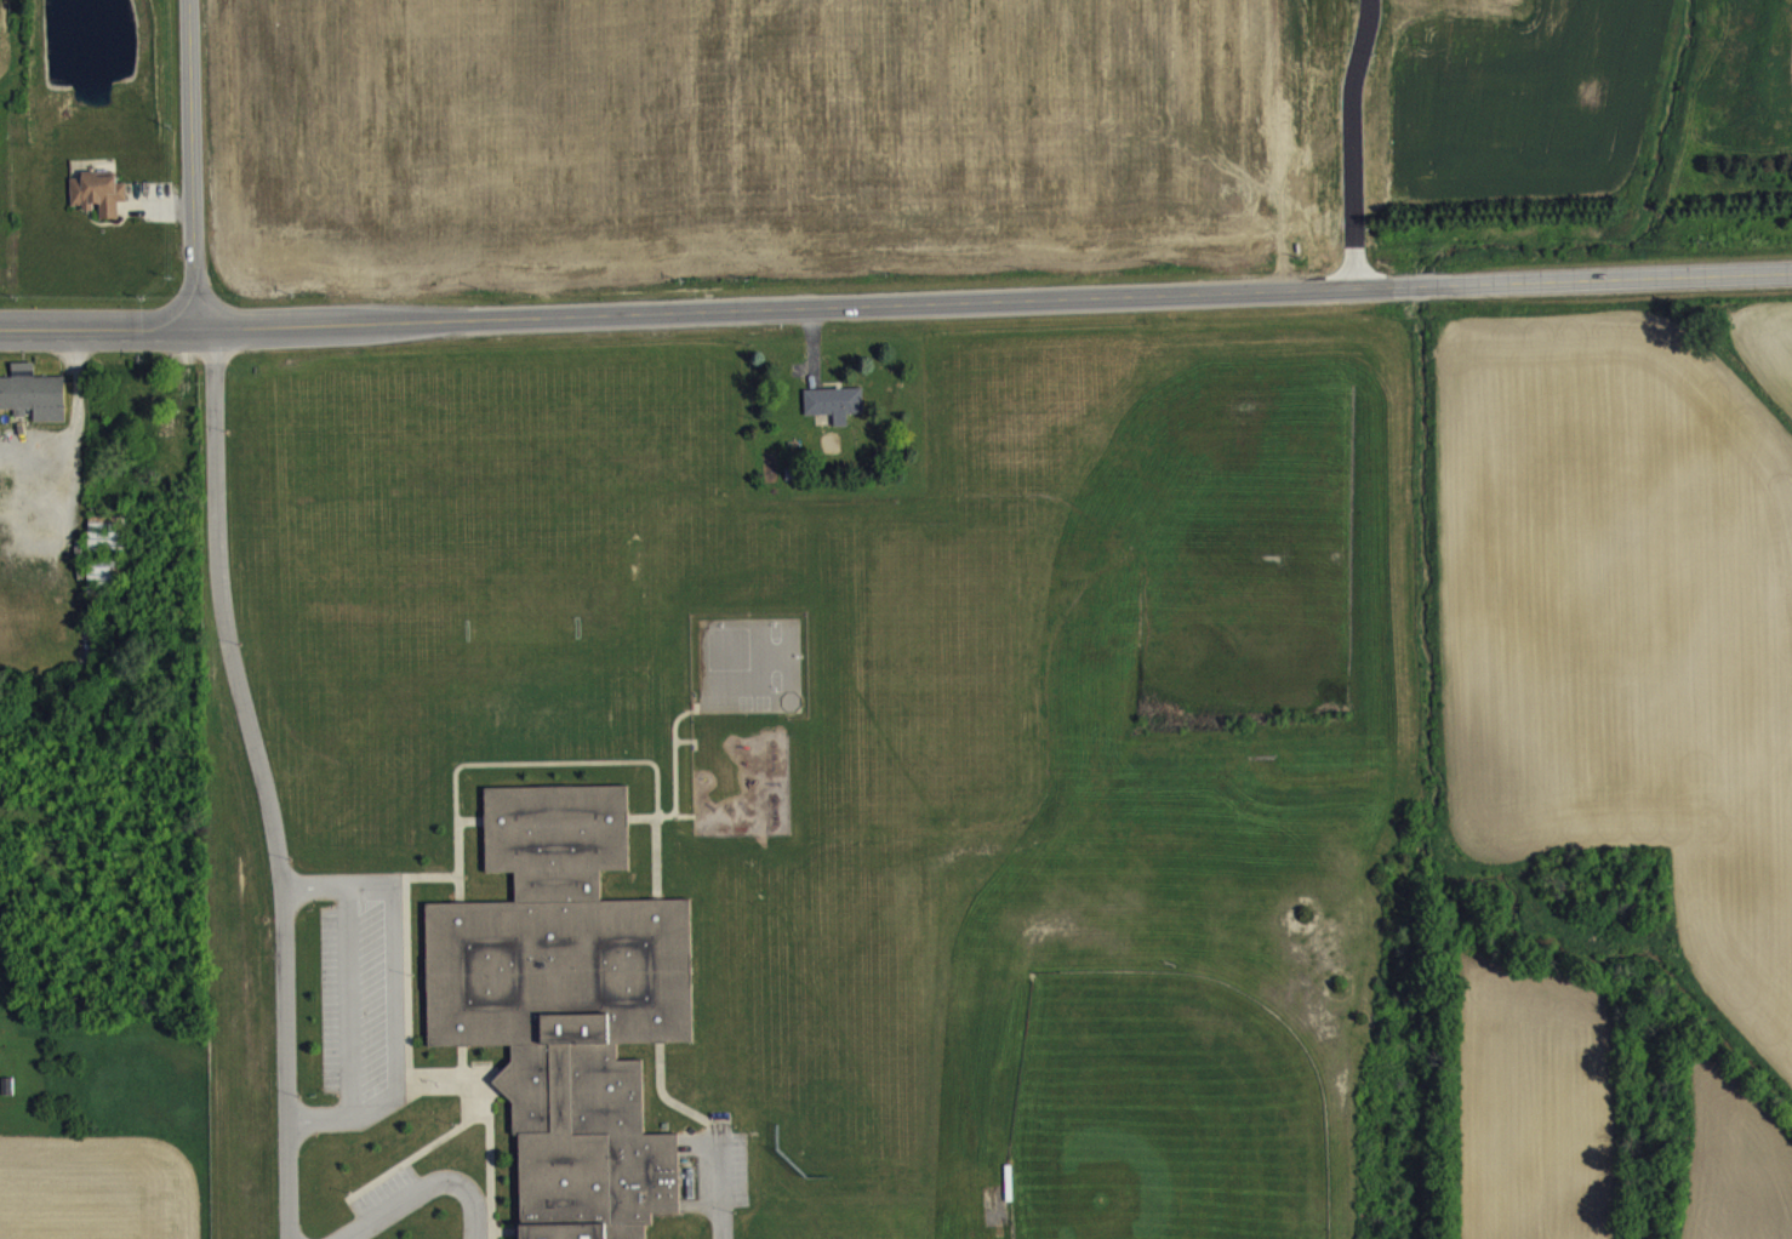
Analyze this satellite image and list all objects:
road: (1349, 142)
road: (190, 162)
building: (97, 192)
road: (994, 297)
road: (98, 325)
building: (33, 392)
building: (833, 400)
building: (835, 416)
park: (748, 663)
road: (259, 780)
road: (316, 898)
building: (567, 1005)
road: (393, 1006)
road: (353, 1016)
road: (321, 1136)
road: (432, 1188)

